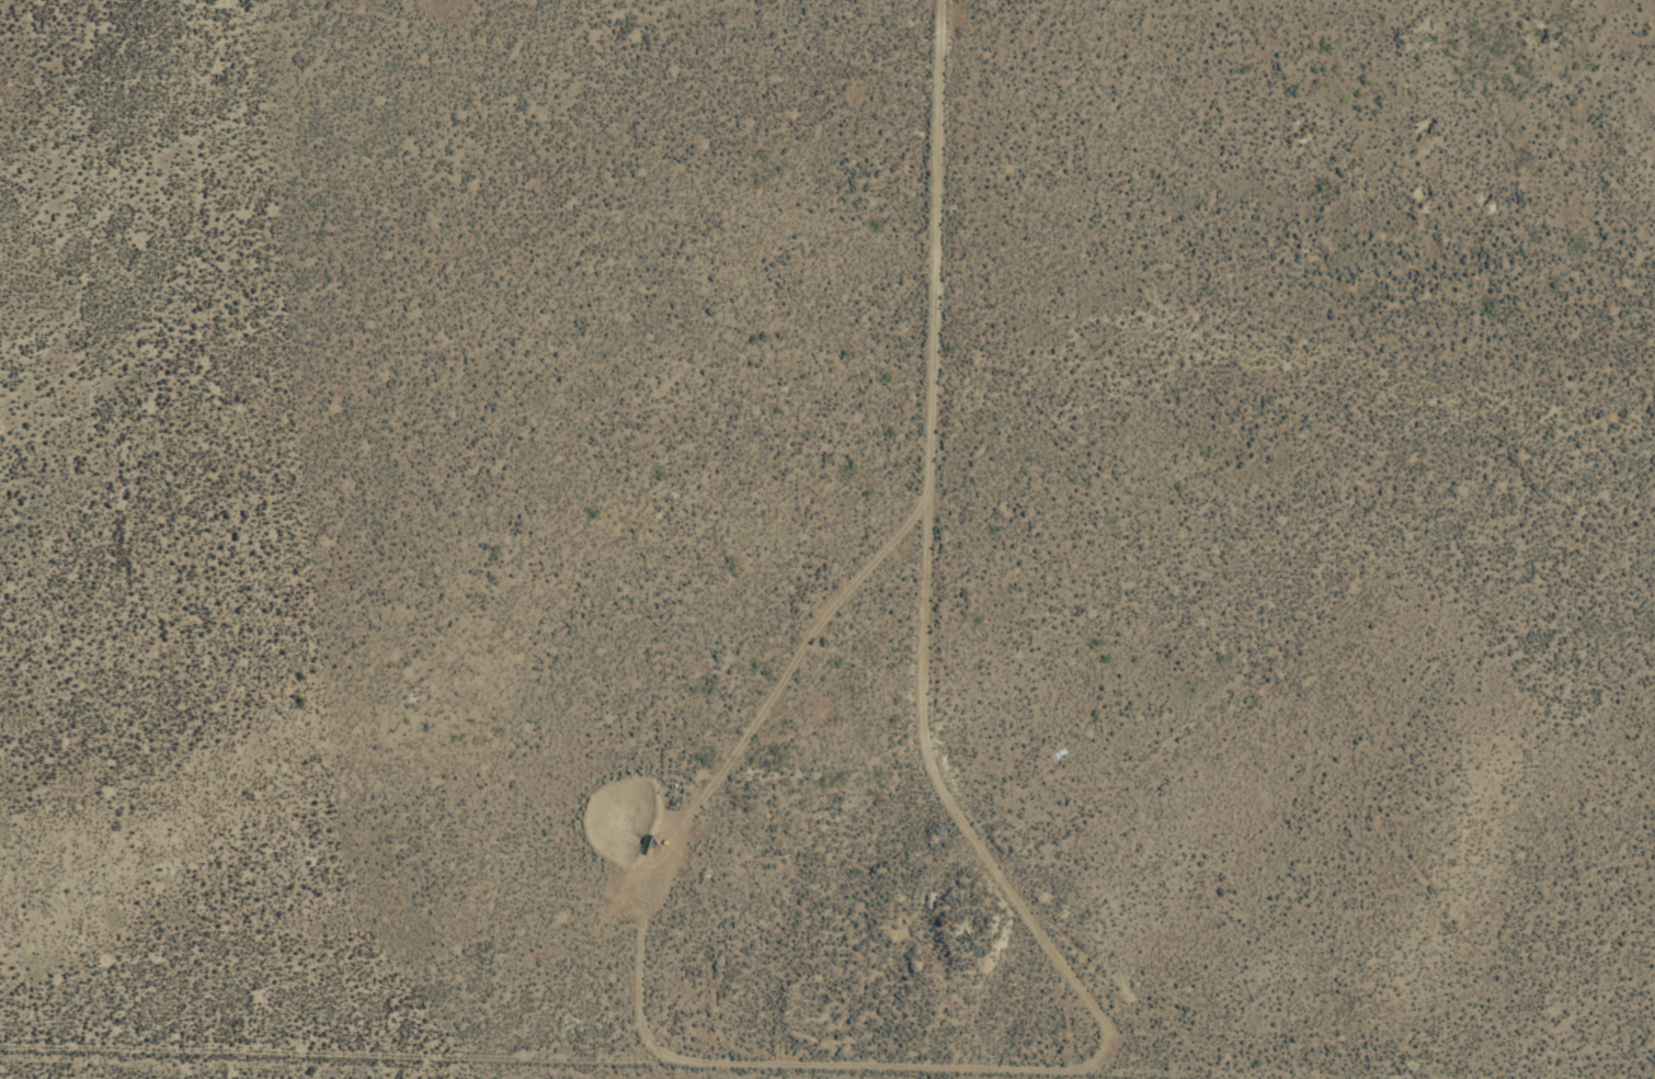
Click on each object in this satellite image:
crop: (1053, 347)
crop: (473, 1034)

